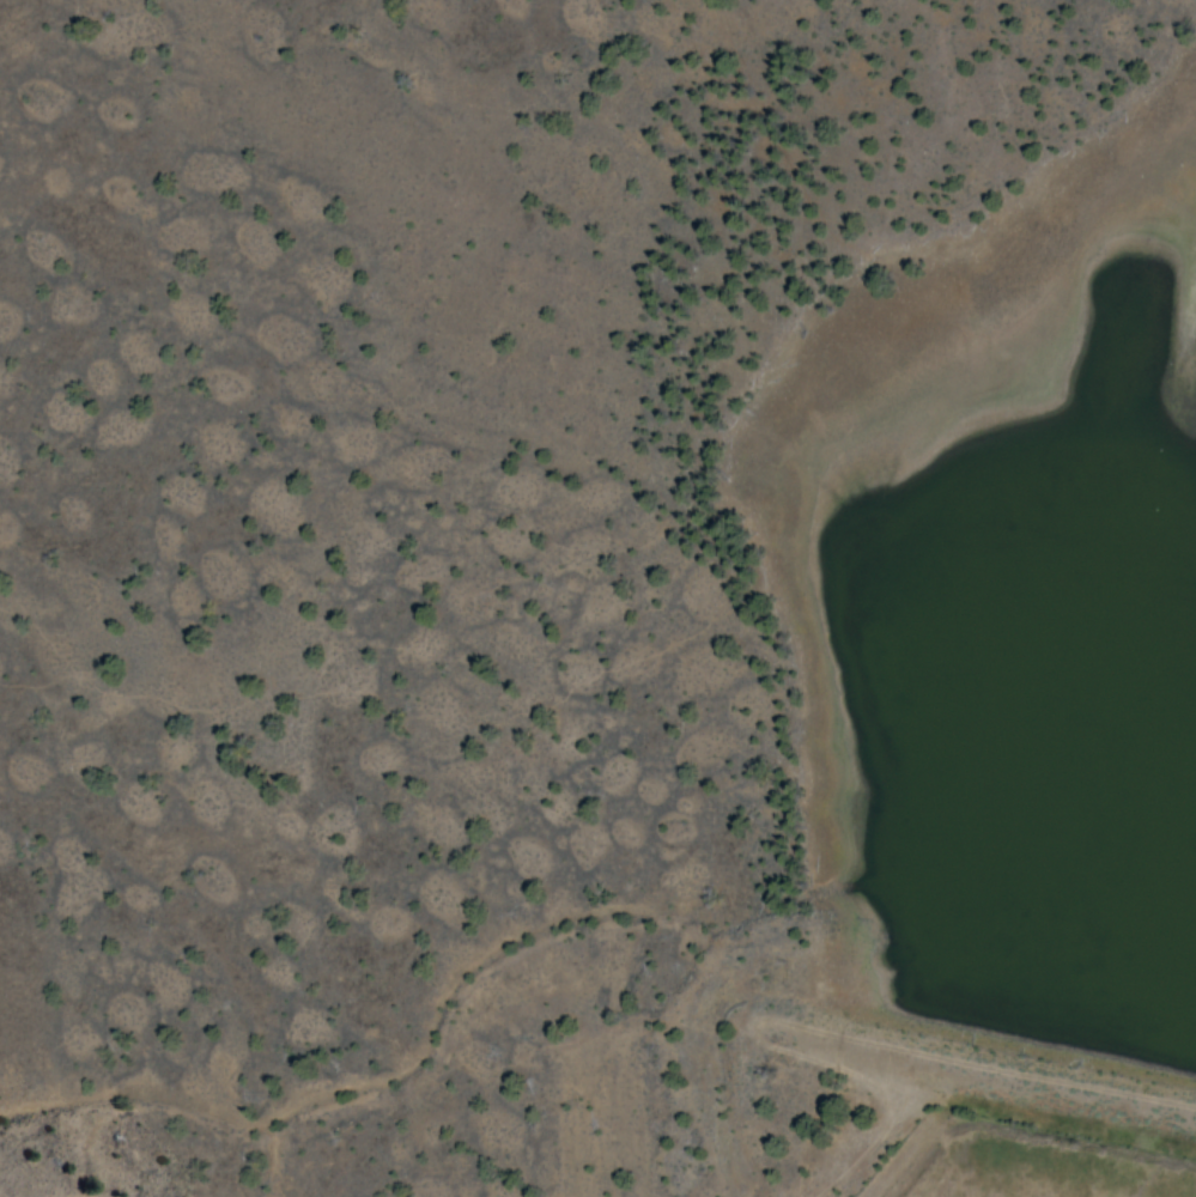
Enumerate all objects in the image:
road: (834, 1033)
dam: (965, 1040)

